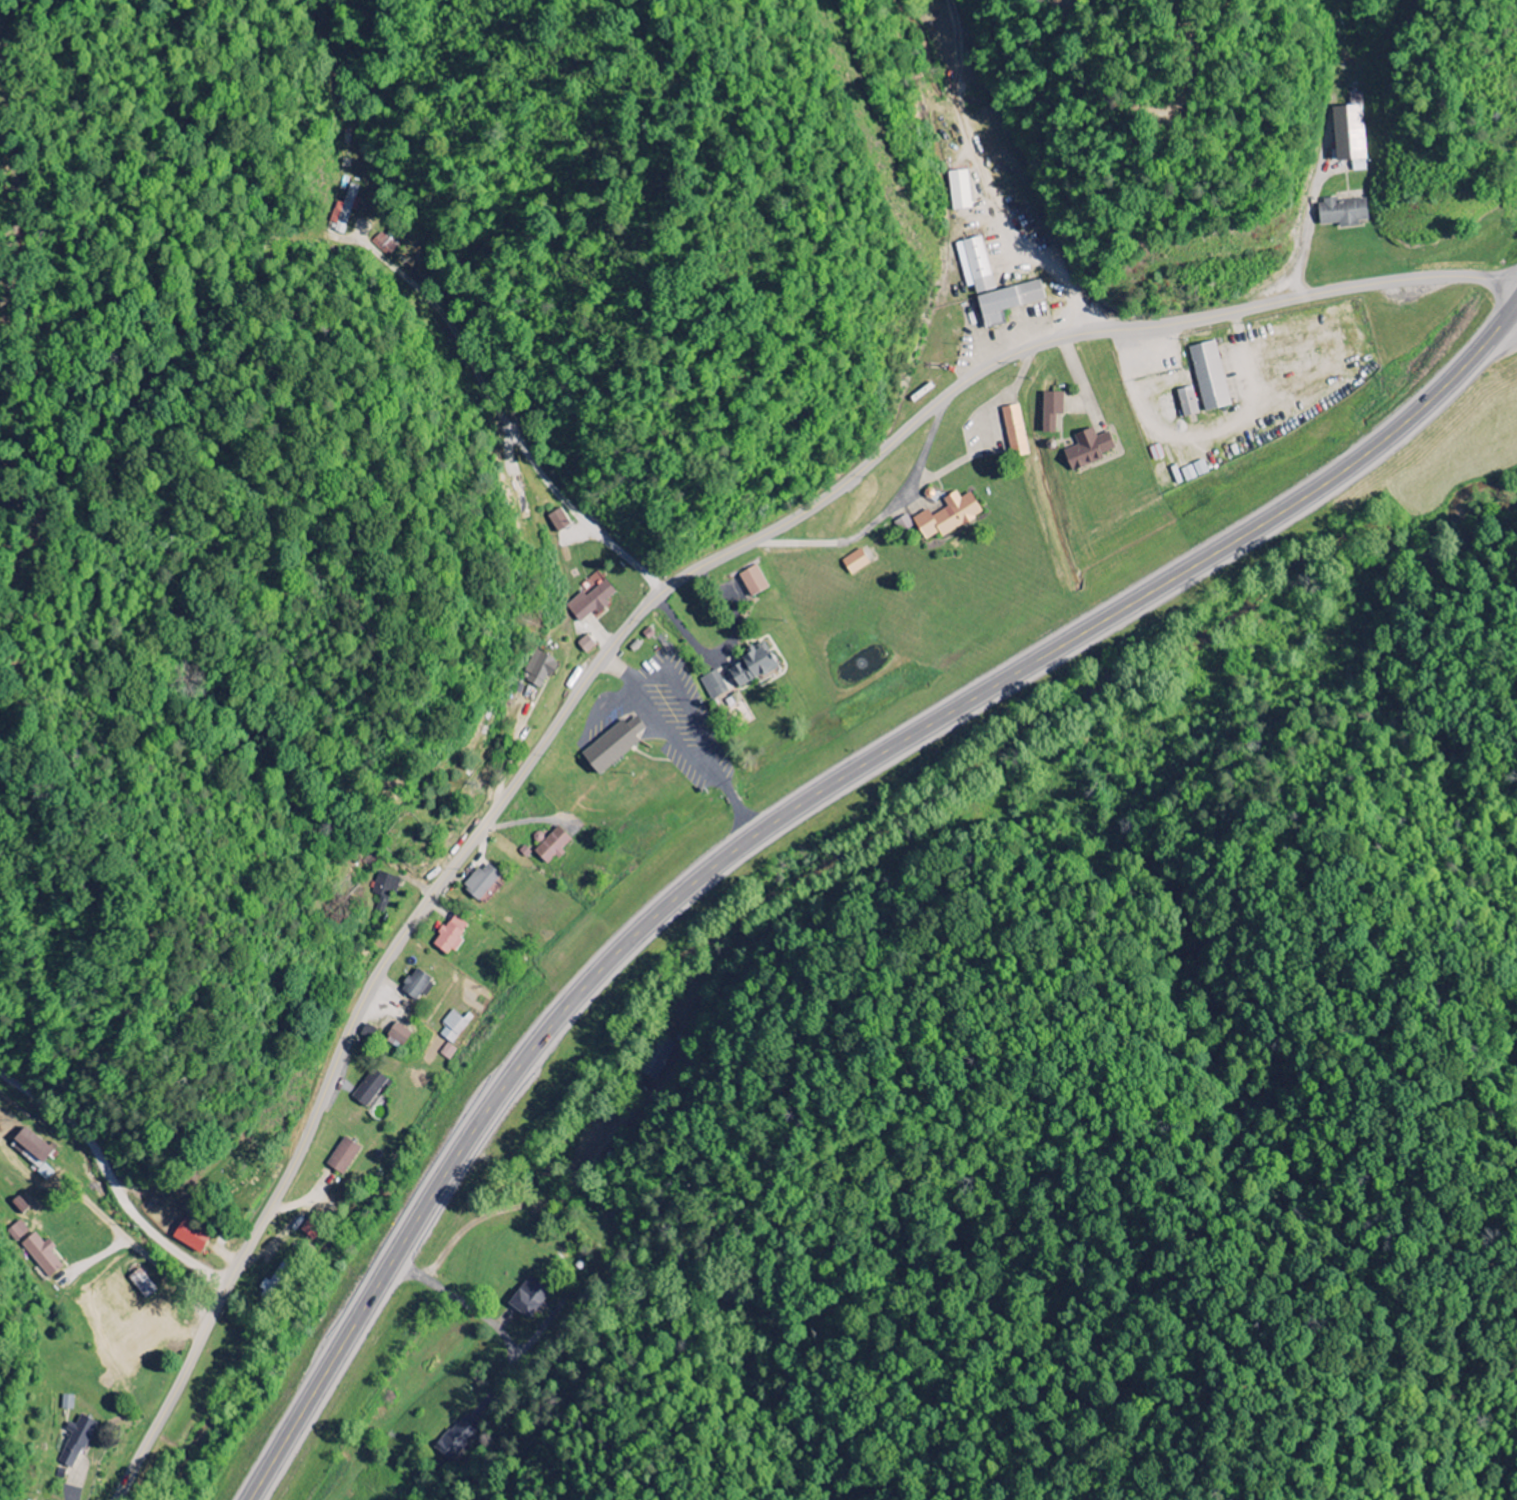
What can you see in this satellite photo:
building: (1347, 133)
building: (960, 190)
building: (347, 208)
building: (1341, 213)
building: (384, 244)
building: (974, 265)
building: (1006, 302)
road: (1081, 307)
building: (1208, 377)
building: (1186, 402)
building: (1050, 411)
building: (1014, 431)
building: (1086, 450)
building: (519, 499)
building: (946, 517)
building: (557, 521)
building: (854, 563)
building: (752, 582)
building: (591, 602)
road: (620, 636)
building: (585, 645)
building: (751, 665)
building: (539, 670)
building: (713, 685)
building: (611, 747)
road: (793, 809)
building: (551, 847)
building: (479, 883)
building: (384, 890)
building: (449, 937)
building: (416, 986)
building: (452, 1028)
building: (397, 1035)
building: (447, 1052)
building: (659, 1059)
building: (367, 1089)
building: (32, 1147)
building: (341, 1157)
park: (233, 1180)
road: (112, 1181)
building: (17, 1232)
building: (190, 1237)
building: (41, 1255)
building: (528, 1299)
building: (162, 1340)
building: (136, 1346)
building: (66, 1403)
building: (458, 1438)
building: (75, 1442)

